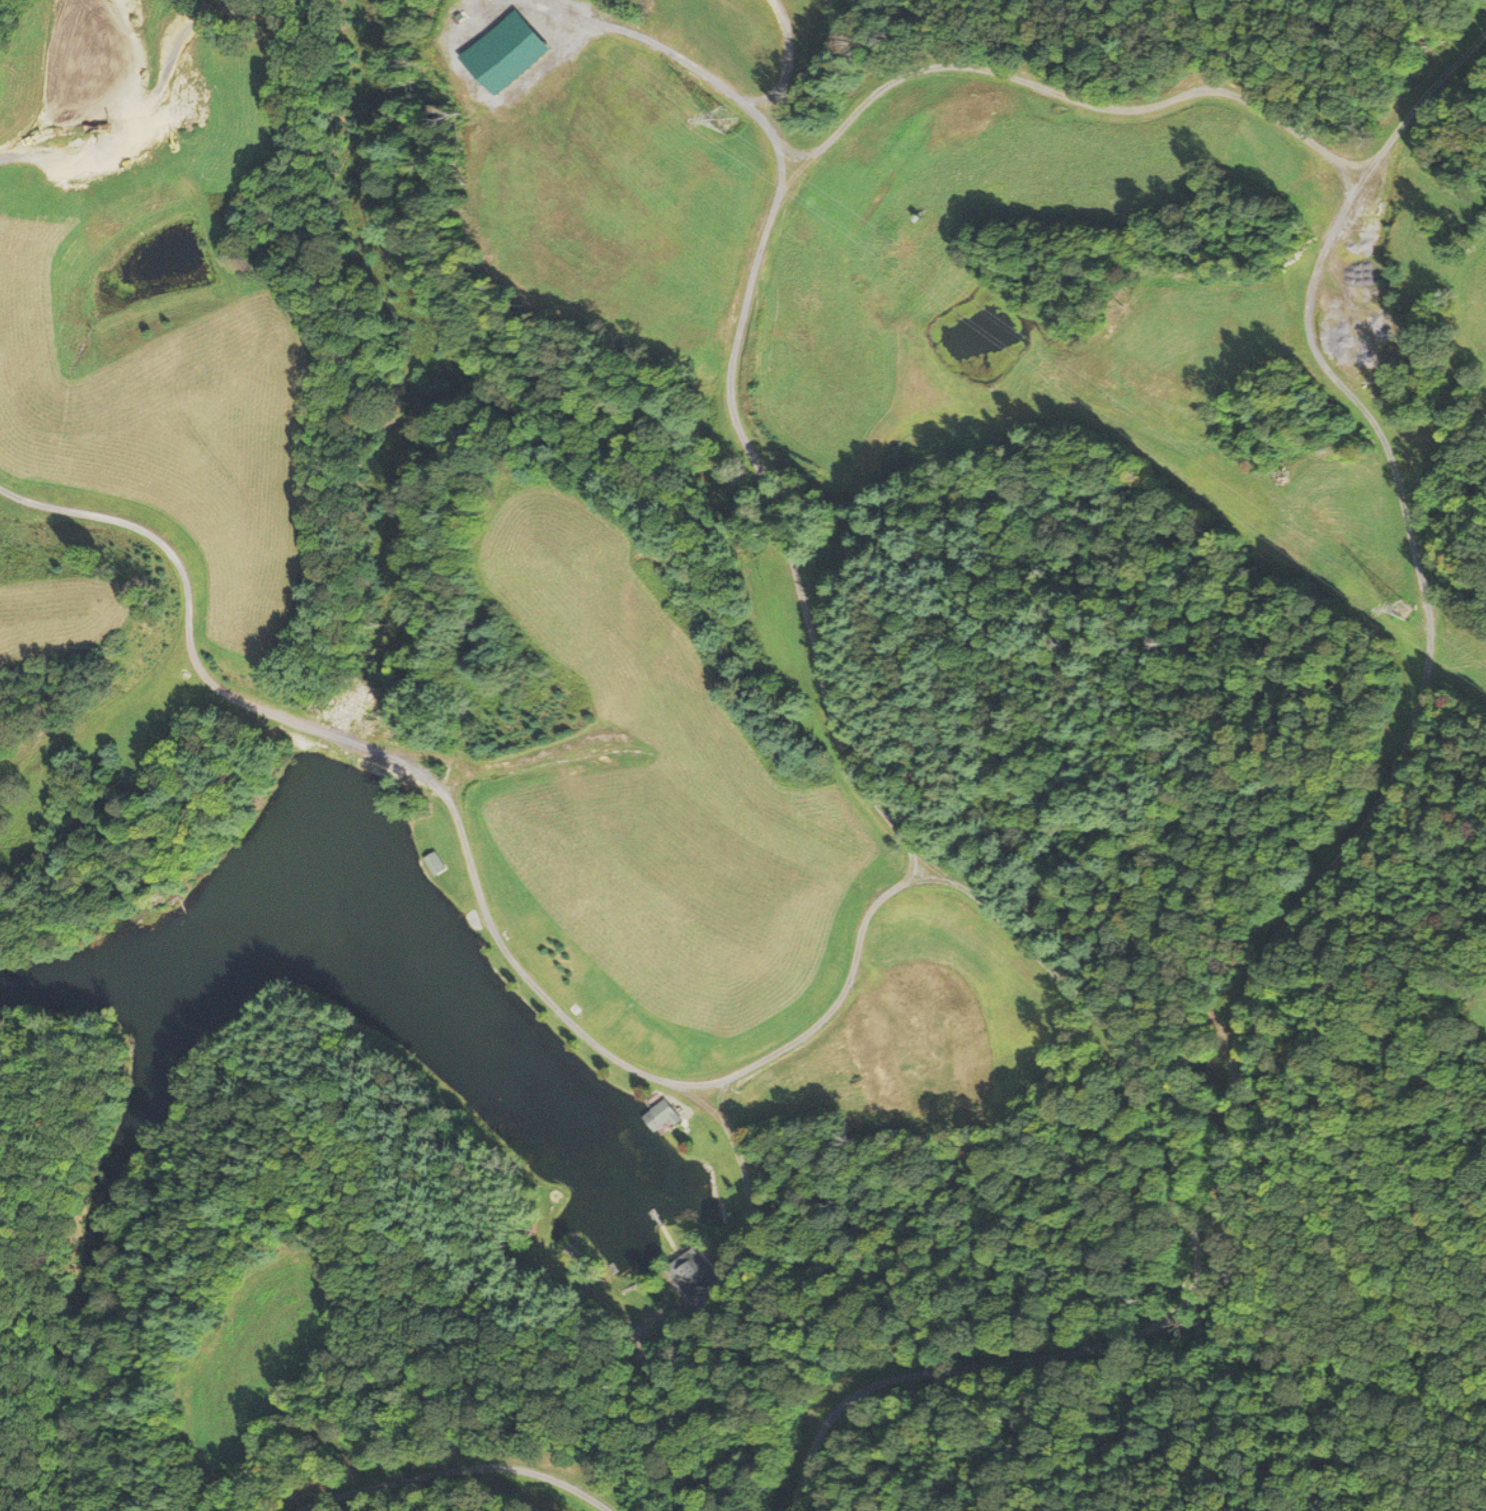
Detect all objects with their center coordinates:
road: (781, 58)
road: (1061, 97)
road: (1419, 105)
road: (142, 117)
power tower: (725, 118)
power tower: (1413, 612)
building: (435, 863)
road: (1259, 939)
road: (837, 999)
building: (662, 1115)
building: (690, 1271)
road: (463, 1469)

